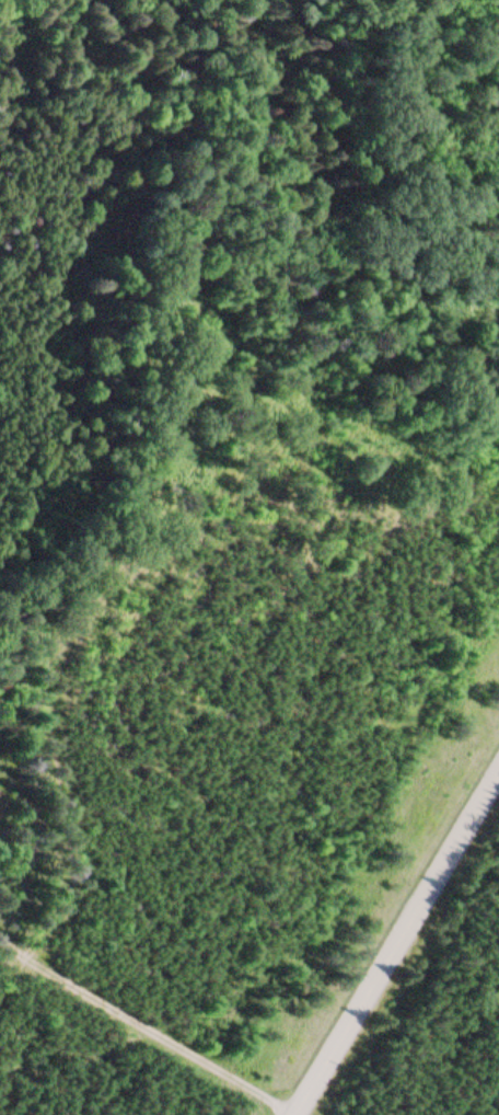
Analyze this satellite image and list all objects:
road: (174, 459)
road: (398, 944)
road: (146, 1030)

